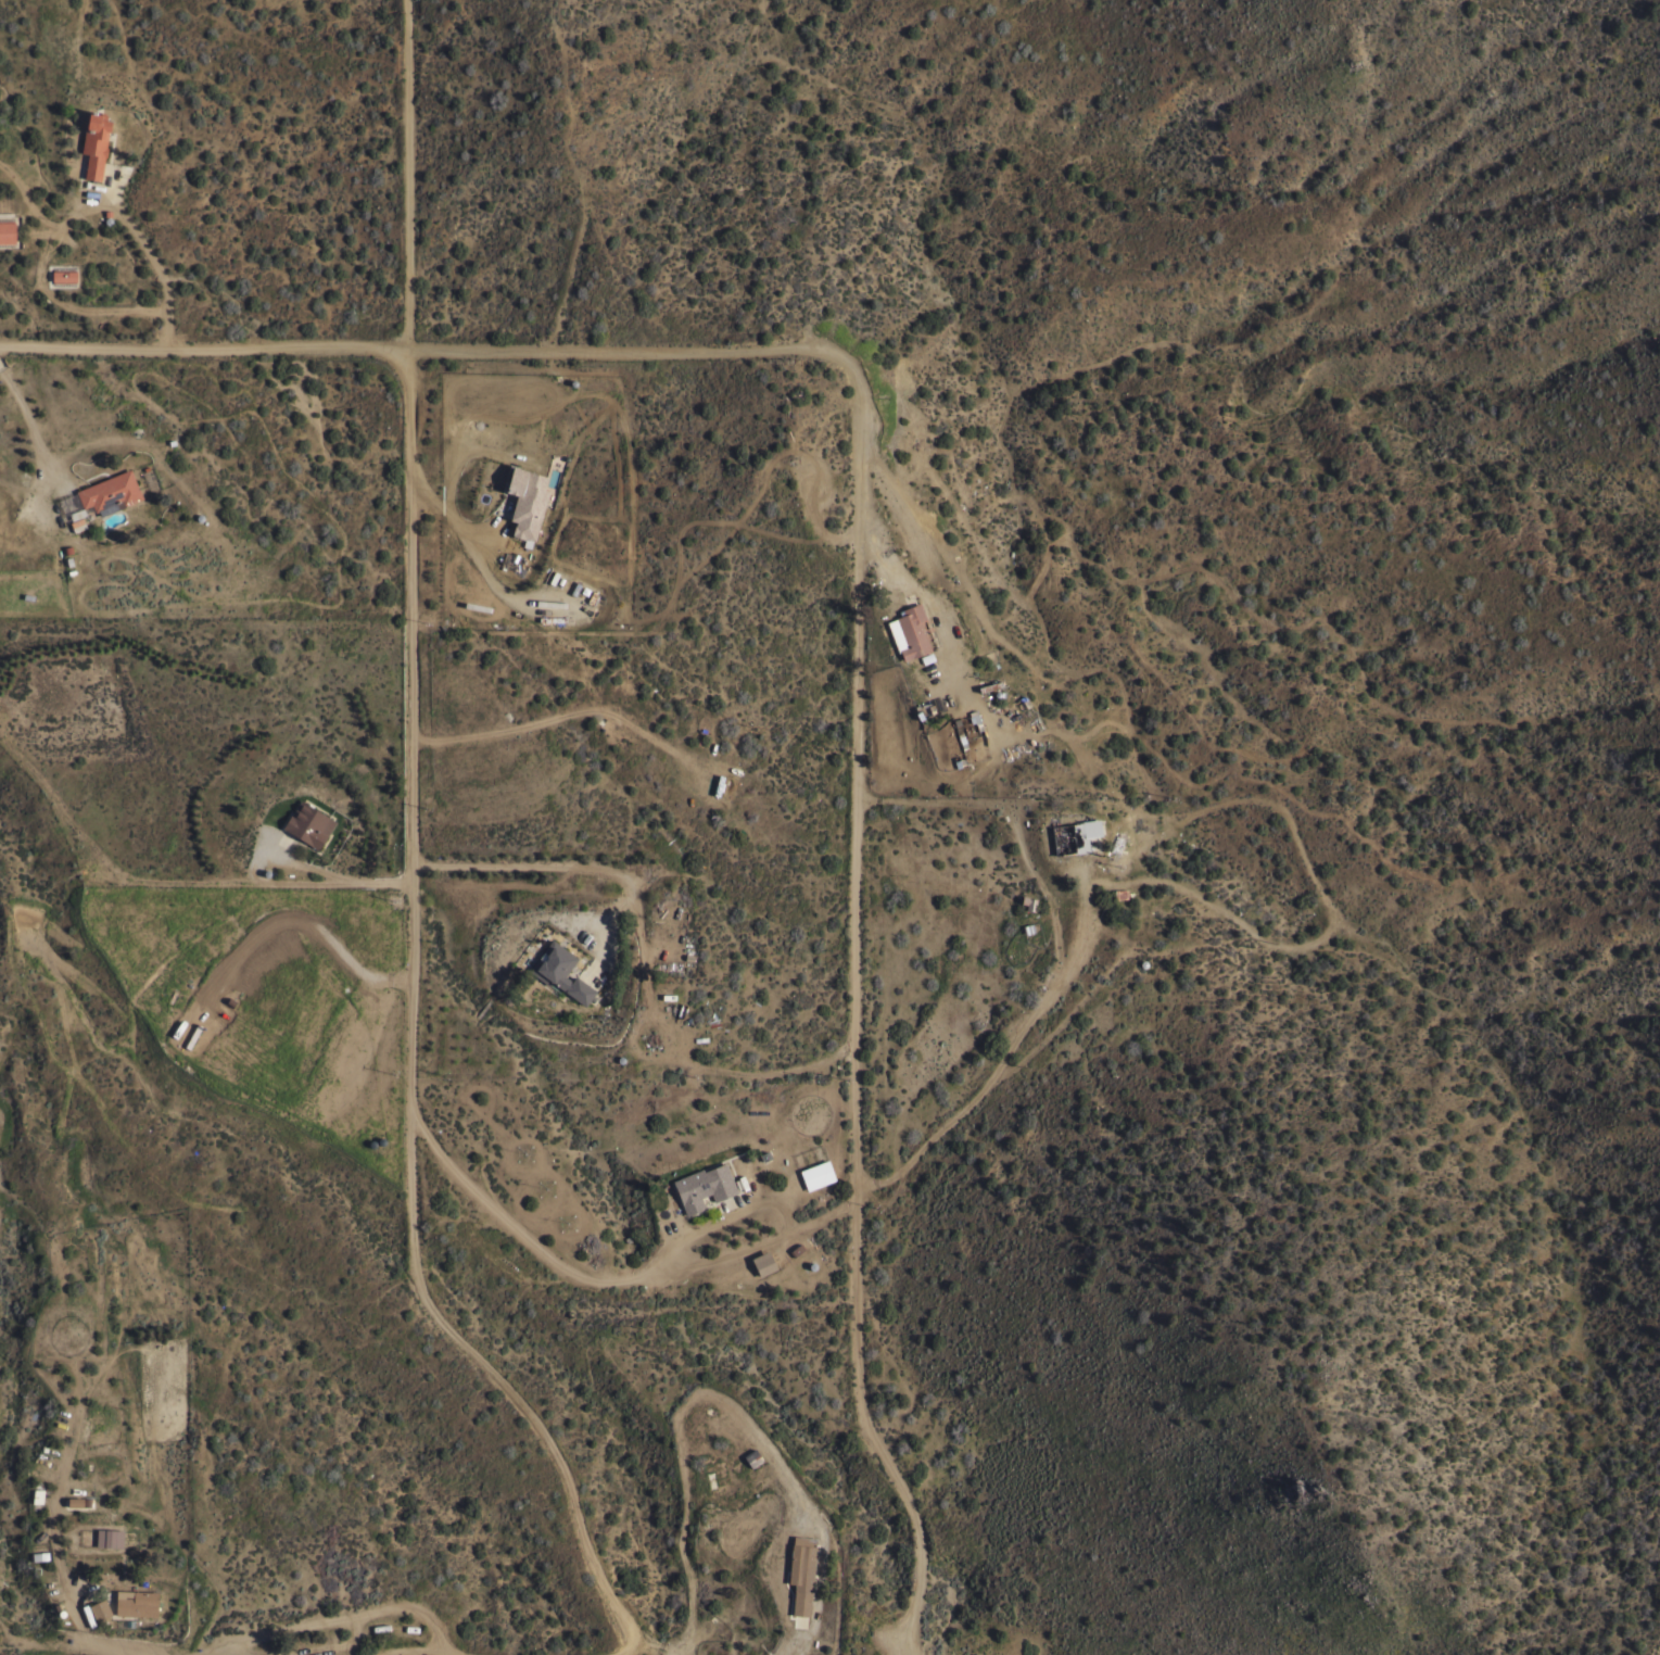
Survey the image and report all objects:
building: (94, 143)
road: (408, 174)
road: (48, 222)
building: (7, 231)
road: (155, 266)
building: (63, 275)
road: (28, 427)
building: (110, 492)
building: (527, 501)
building: (74, 514)
building: (67, 548)
road: (473, 556)
road: (858, 588)
building: (909, 632)
building: (989, 685)
road: (1011, 821)
building: (308, 823)
building: (1072, 835)
road: (554, 867)
road: (278, 883)
building: (1028, 901)
building: (1030, 927)
building: (560, 972)
road: (411, 1045)
road: (3, 1052)
road: (763, 1070)
road: (1, 1123)
building: (816, 1174)
building: (702, 1186)
road: (3, 1195)
road: (808, 1224)
road: (722, 1401)
building: (752, 1457)
building: (37, 1498)
building: (75, 1501)
building: (109, 1537)
building: (801, 1571)
road: (66, 1589)
building: (136, 1602)
building: (100, 1609)
road: (341, 1619)
road: (51, 1644)
road: (341, 1647)
road: (630, 1650)
road: (415, 1651)
road: (422, 1653)
road: (221, 1654)

